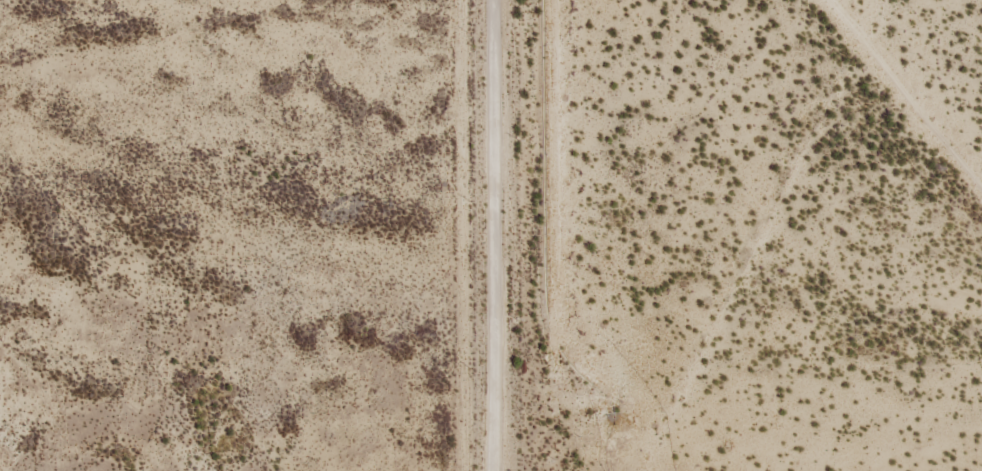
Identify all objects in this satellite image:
road: (466, 235)

